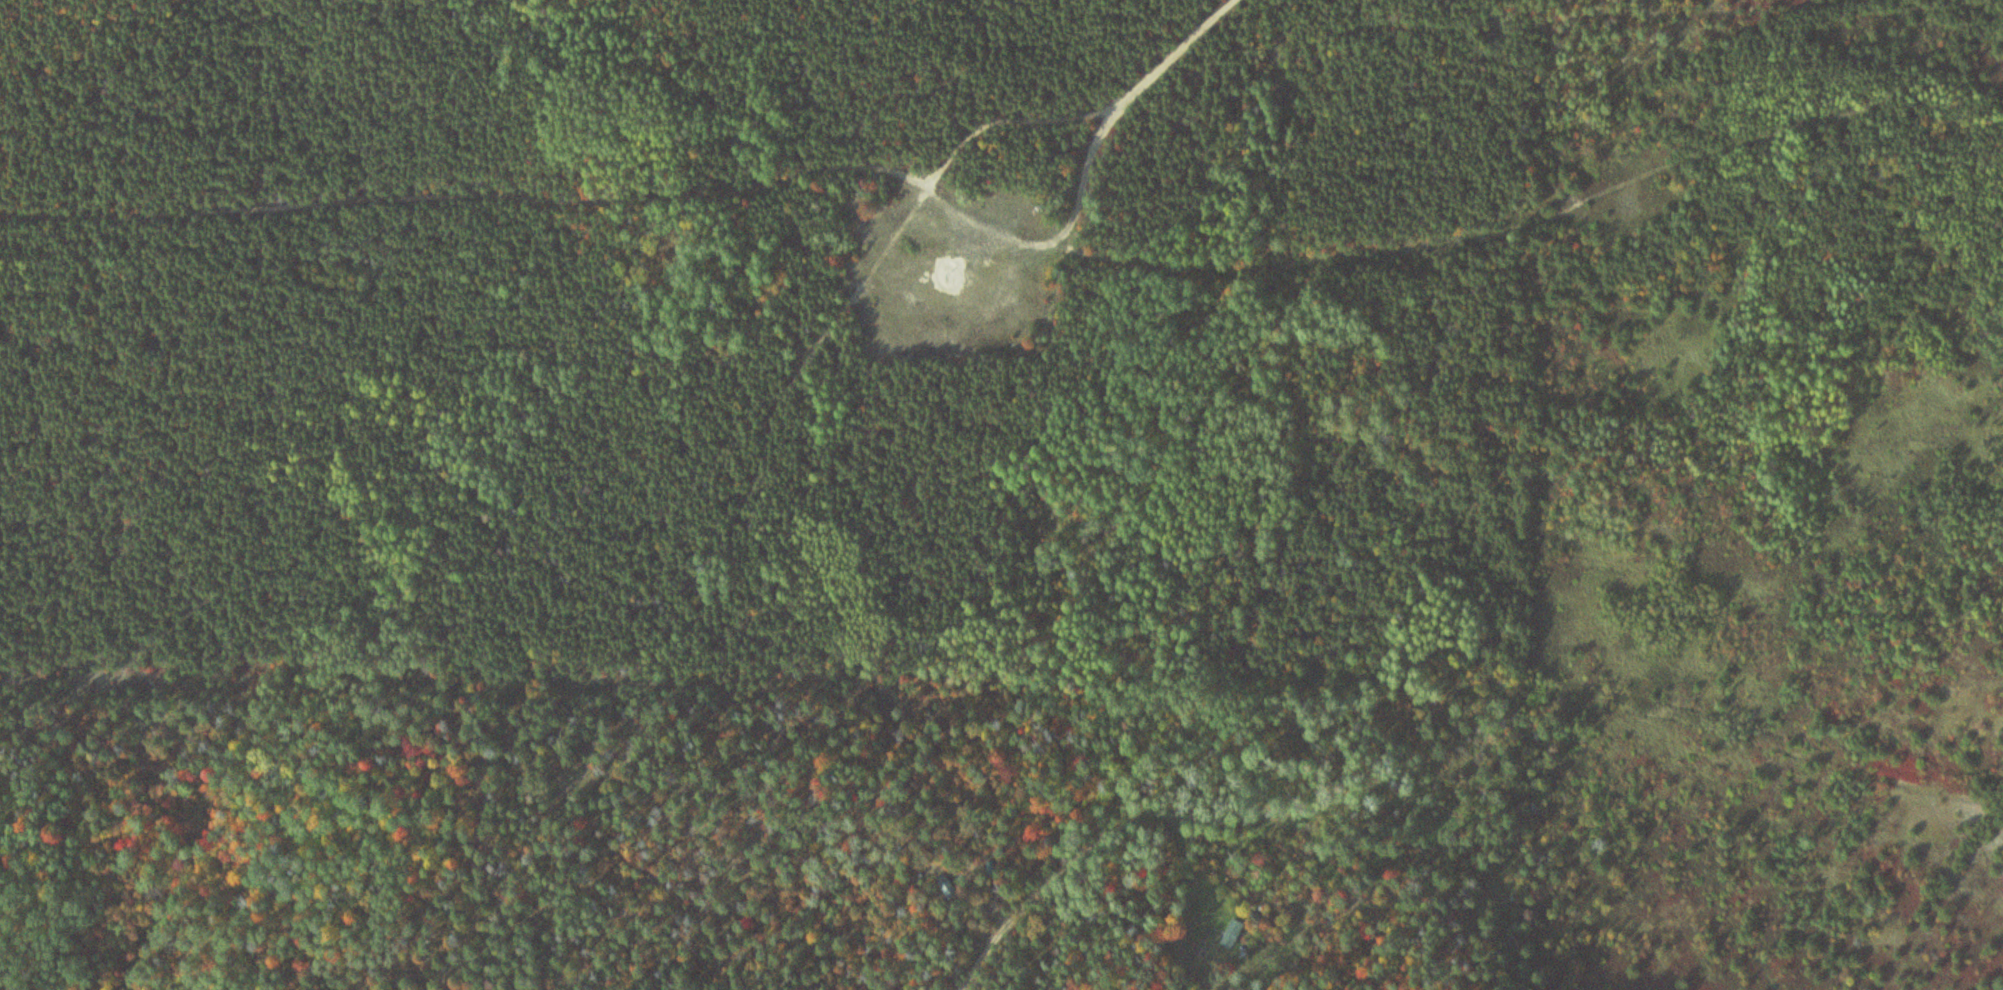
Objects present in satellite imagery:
road: (998, 116)
road: (463, 191)
road: (1462, 239)
road: (878, 683)
road: (1041, 883)
building: (1231, 933)

